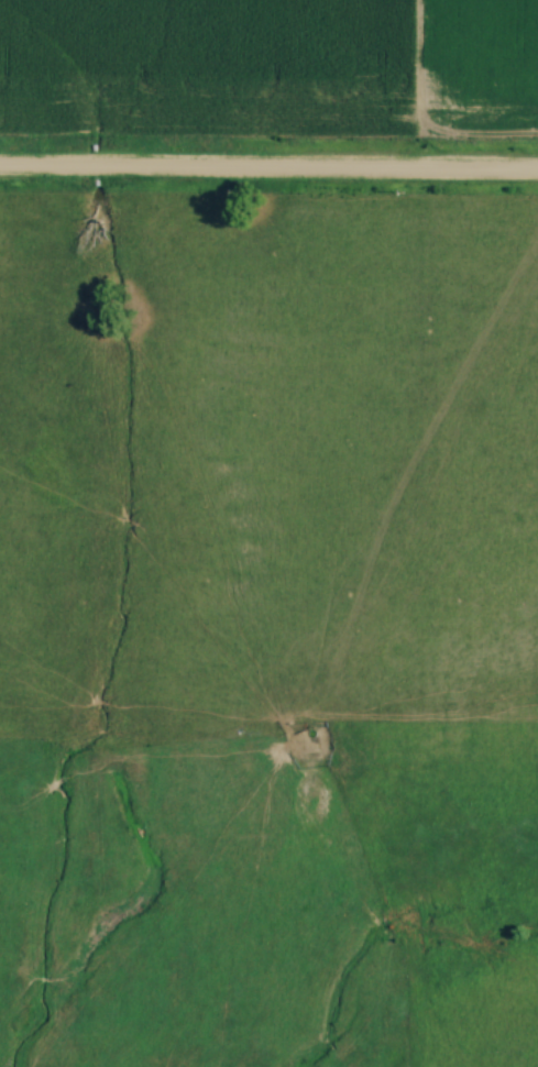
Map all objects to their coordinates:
road: (268, 175)

